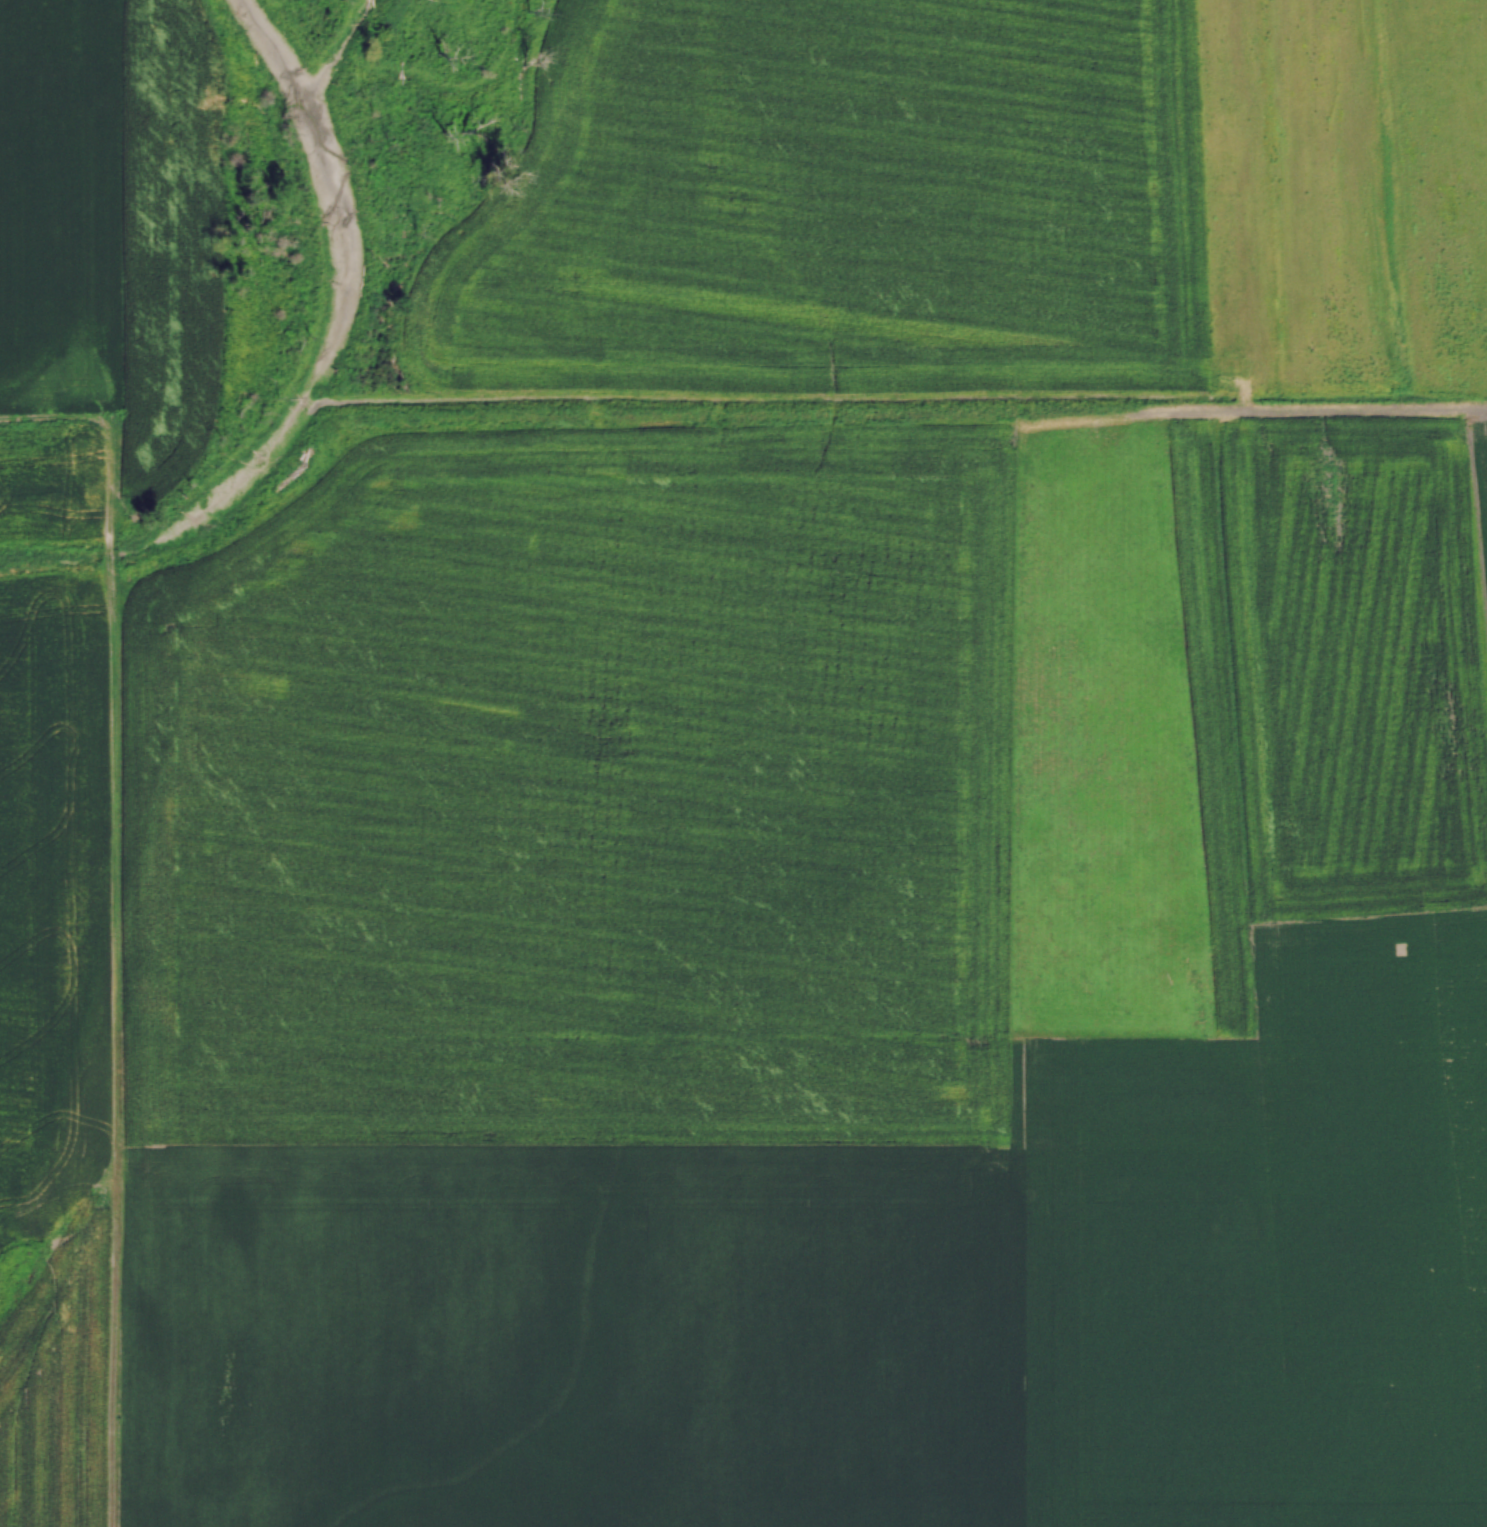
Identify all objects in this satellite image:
road: (111, 572)

